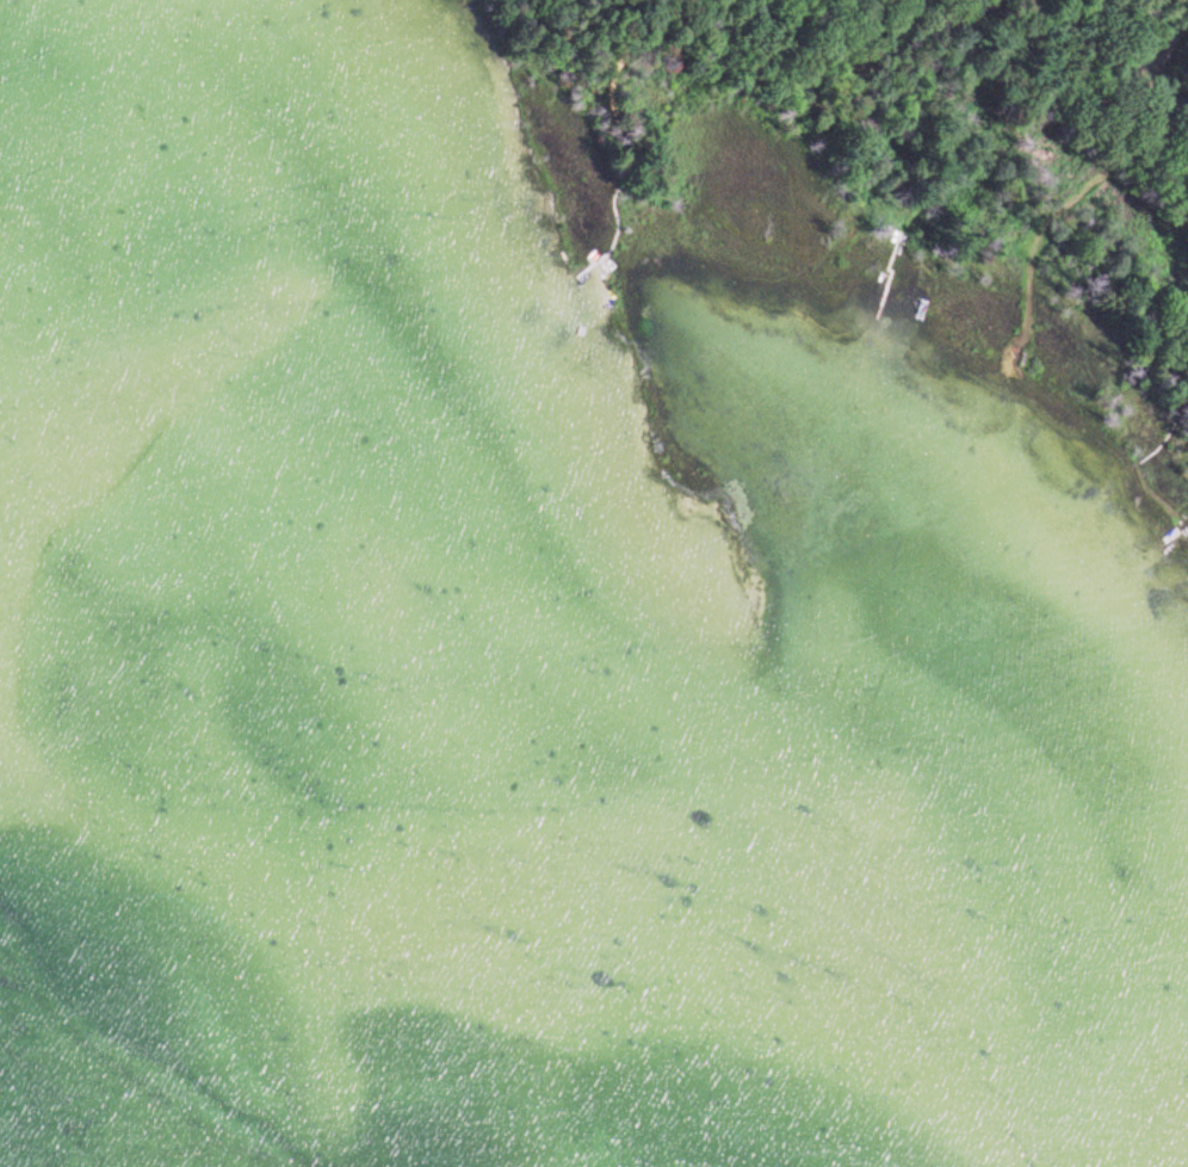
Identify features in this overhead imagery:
road: (1169, 30)
building: (1165, 109)

